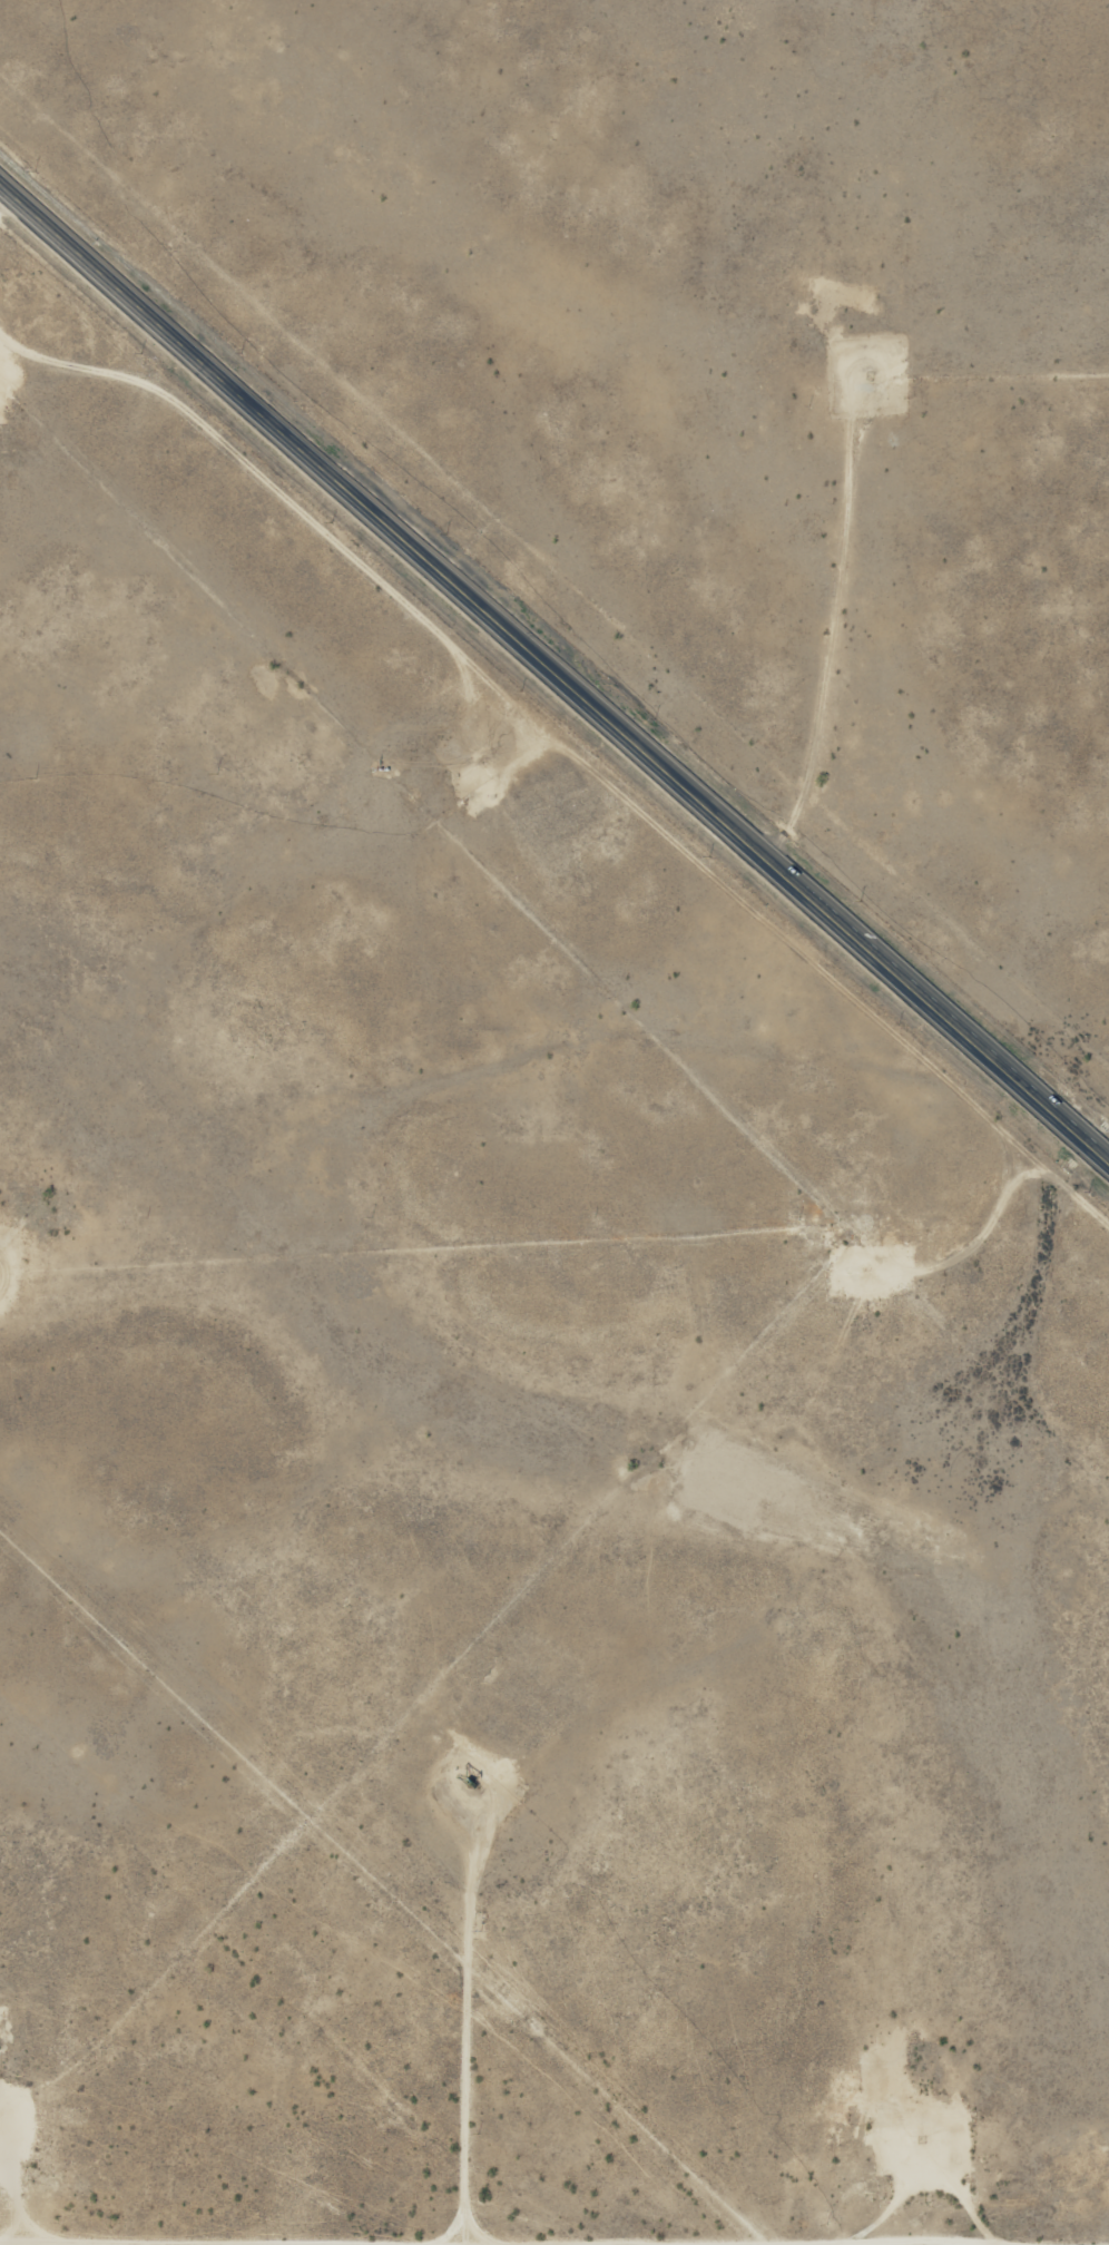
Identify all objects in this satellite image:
road: (86, 330)
road: (818, 661)
road: (557, 673)
road: (1001, 1200)
road: (553, 2221)
road: (443, 2233)

